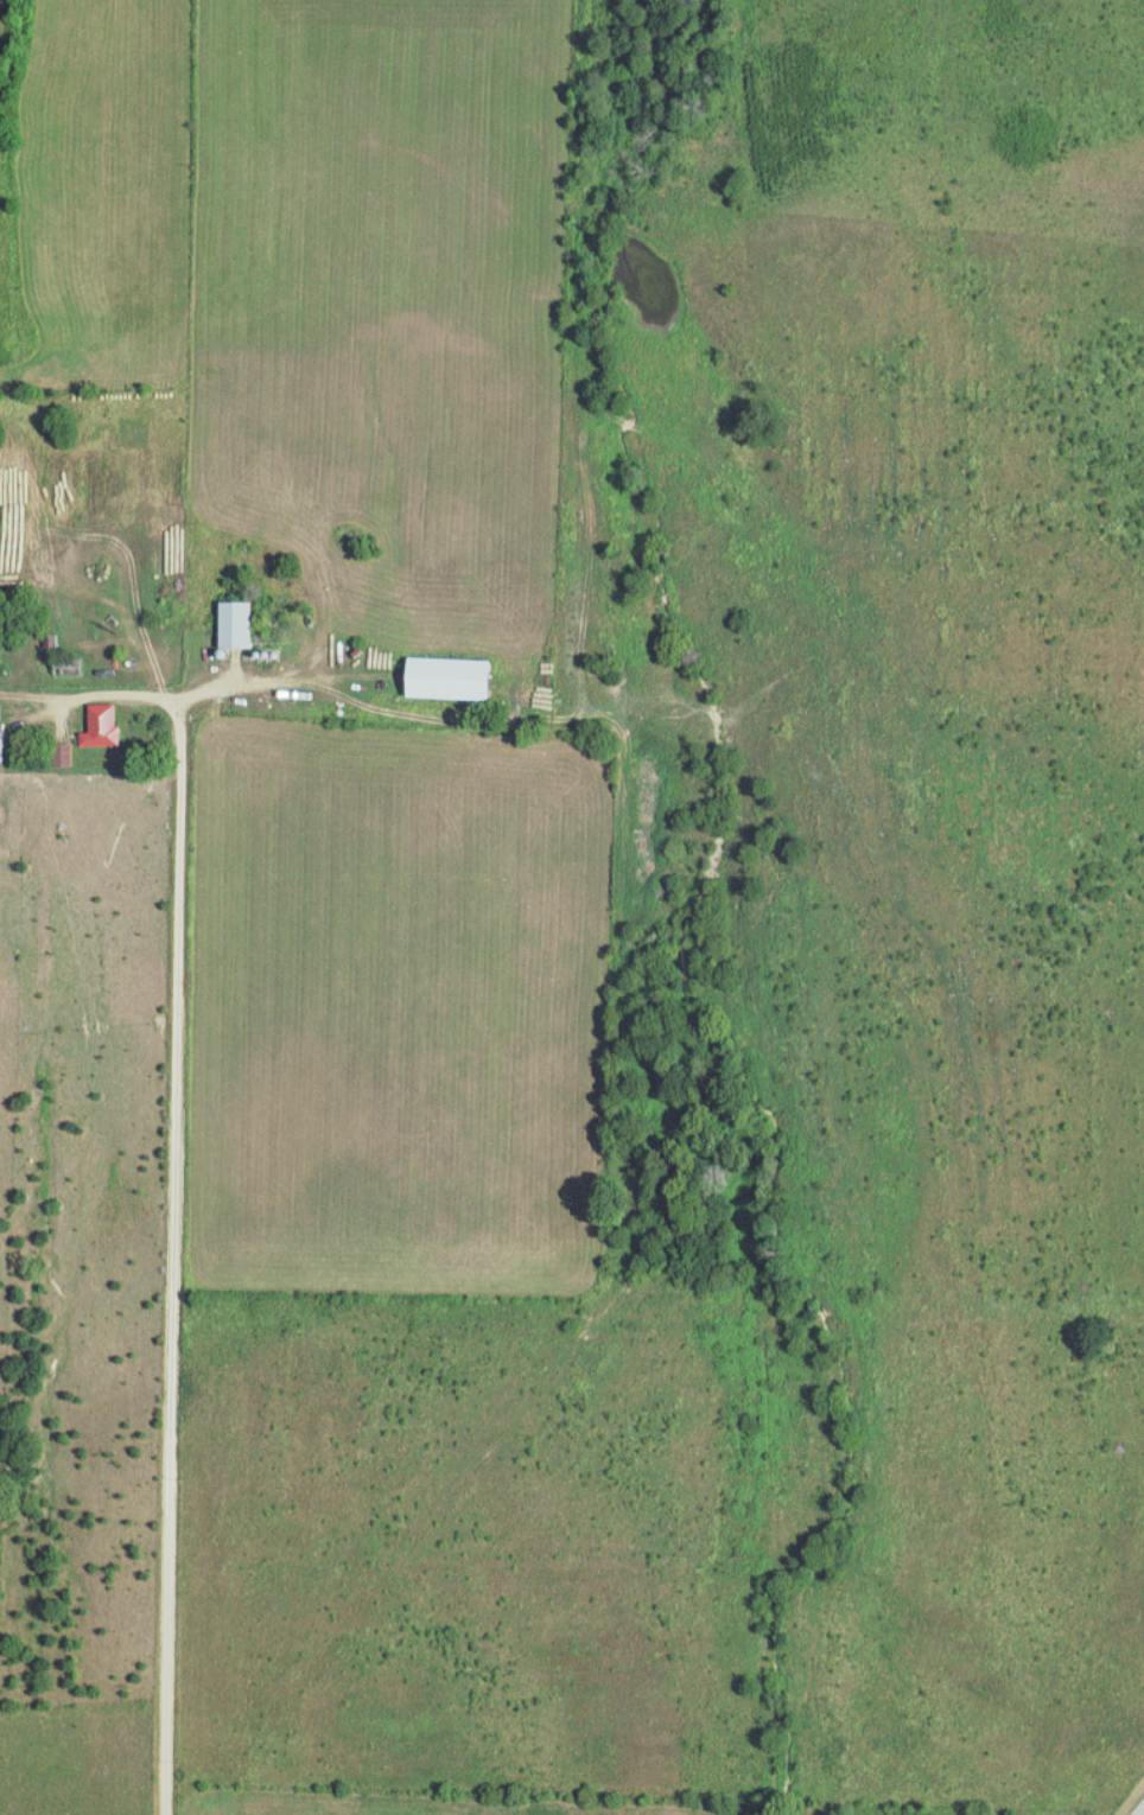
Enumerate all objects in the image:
building: (241, 624)
building: (456, 679)
road: (94, 695)
building: (107, 726)
building: (2, 745)
road: (179, 1152)

